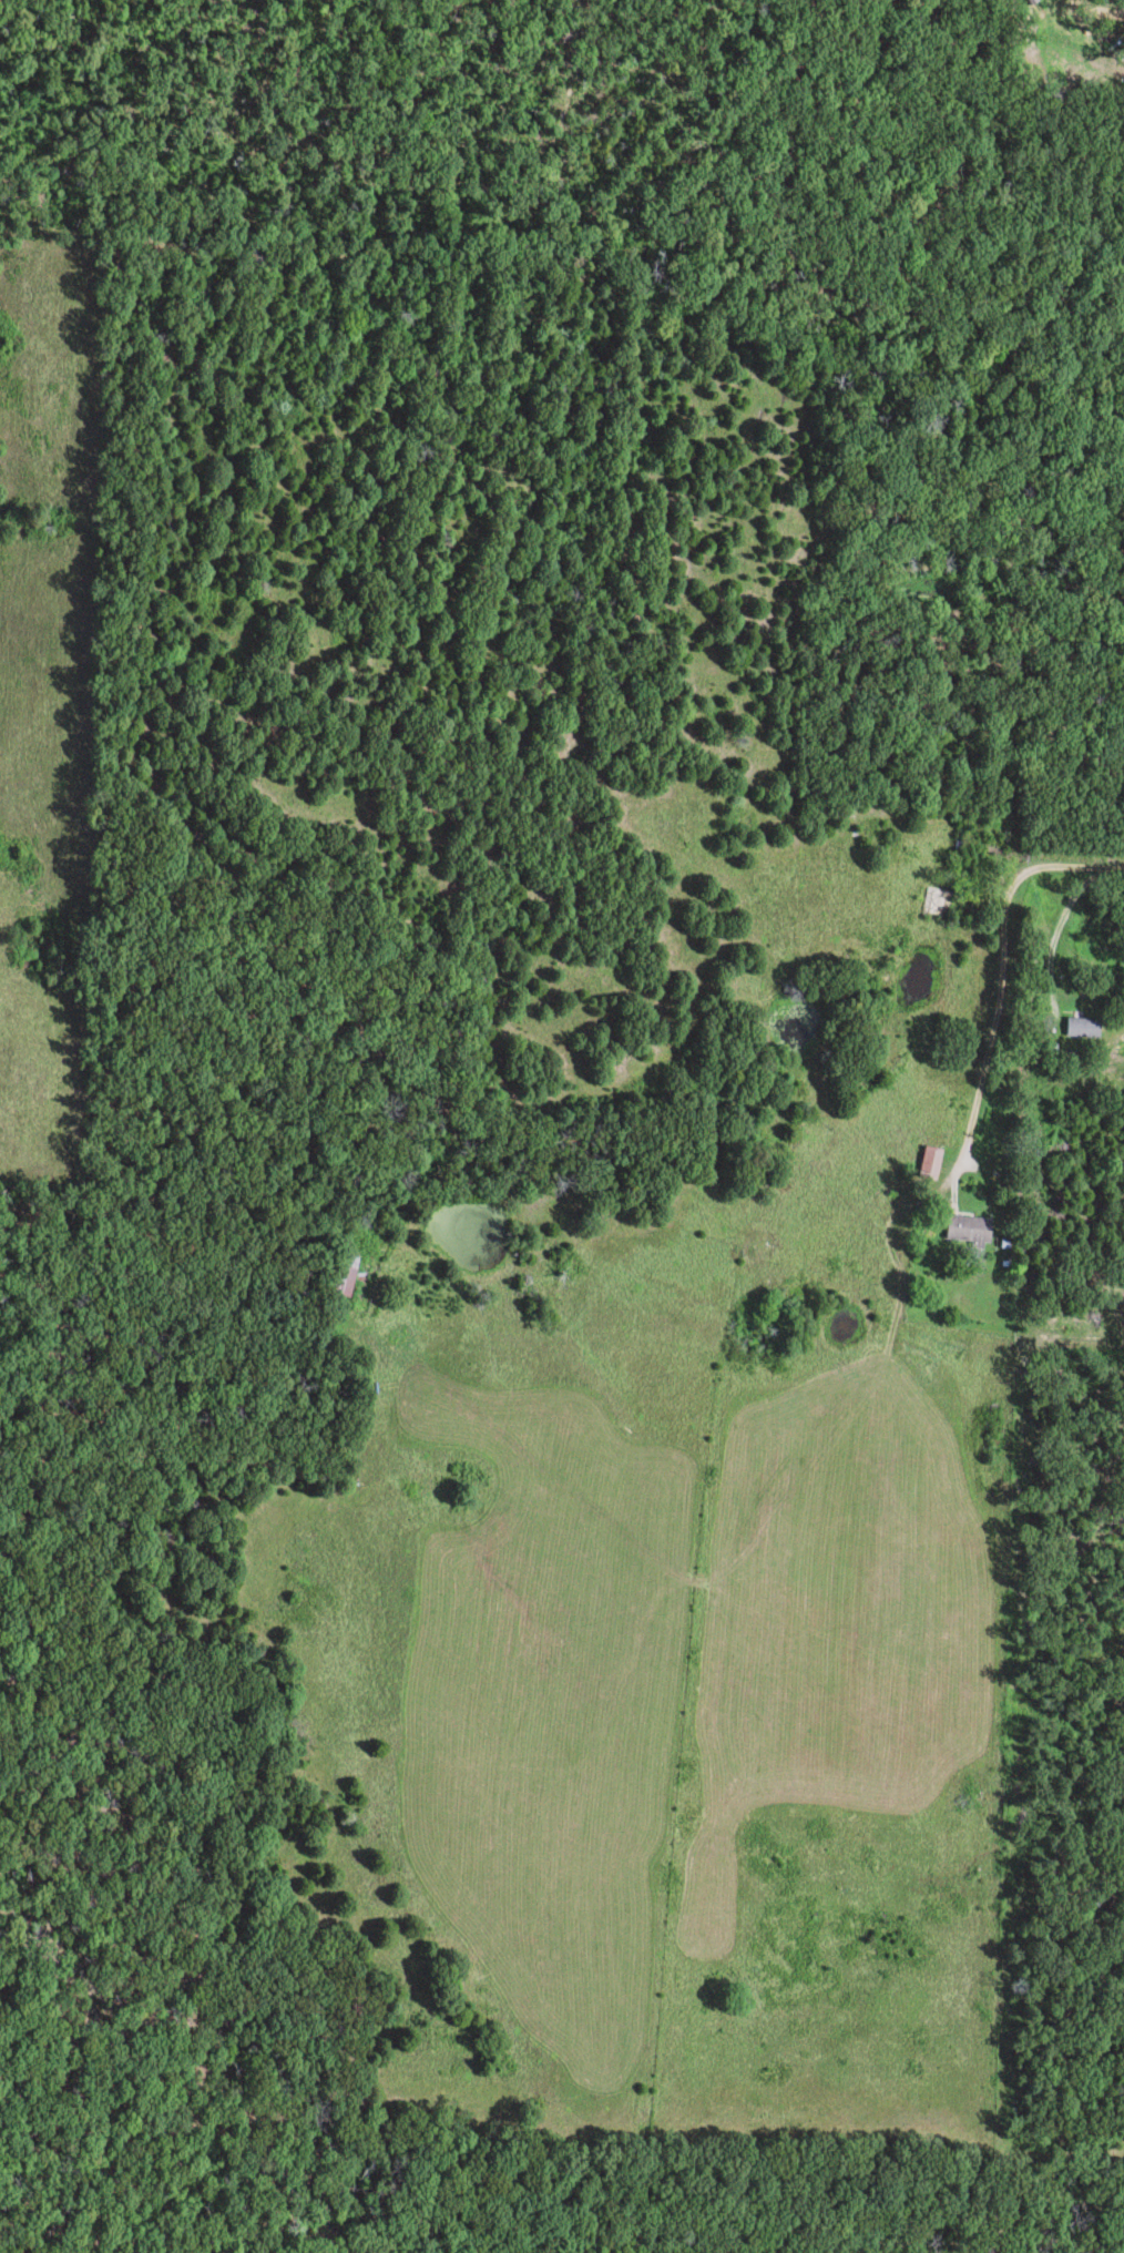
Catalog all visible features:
road: (1002, 965)
building: (941, 1158)

